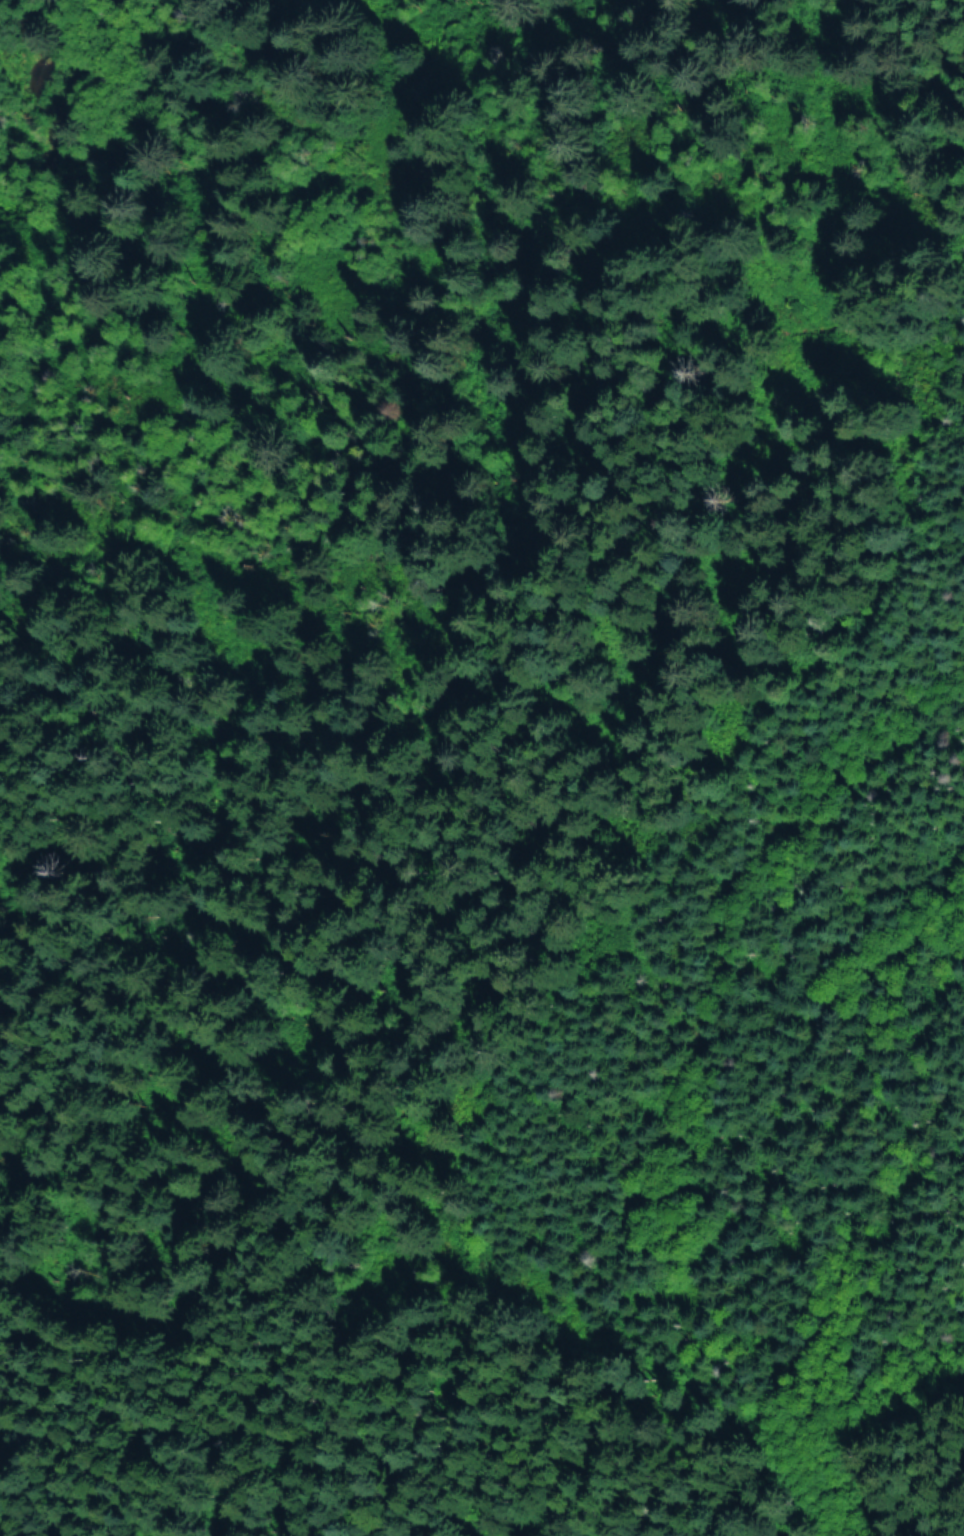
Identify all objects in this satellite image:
road: (666, 1409)

